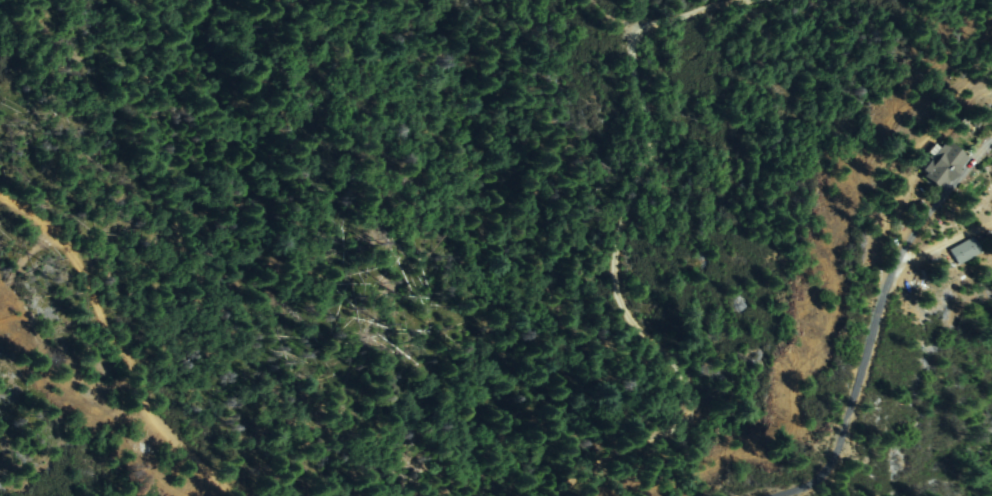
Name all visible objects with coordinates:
building: (991, 106)
building: (945, 167)
building: (965, 251)
road: (119, 343)

